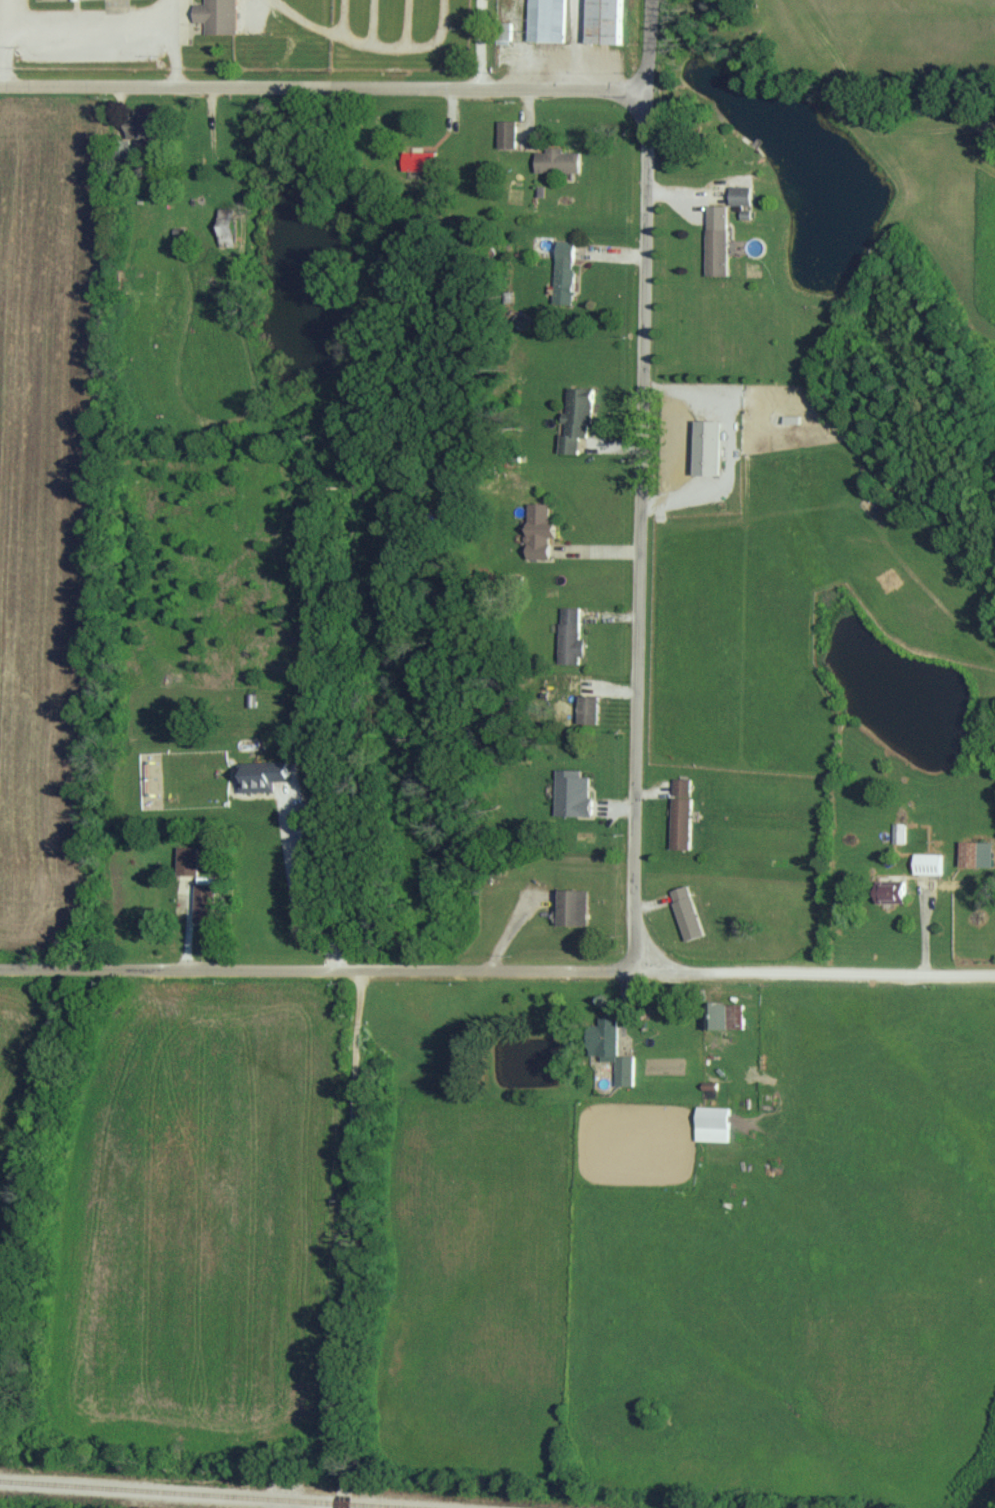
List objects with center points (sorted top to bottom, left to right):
building: (218, 15)
building: (548, 20)
building: (607, 22)
parking lot: (379, 26)
road: (87, 32)
parking lot: (83, 35)
road: (5, 41)
road: (174, 42)
road: (481, 43)
road: (319, 84)
building: (144, 129)
building: (509, 133)
building: (421, 160)
building: (559, 160)
building: (742, 194)
building: (229, 226)
building: (719, 239)
building: (565, 272)
building: (579, 418)
building: (712, 446)
road: (640, 484)
building: (541, 530)
building: (572, 635)
building: (590, 708)
building: (265, 775)
building: (574, 793)
building: (683, 813)
building: (900, 832)
building: (979, 853)
building: (190, 860)
building: (930, 863)
road: (295, 889)
building: (893, 891)
building: (207, 903)
building: (575, 906)
building: (689, 912)
road: (314, 967)
road: (812, 972)
building: (613, 1049)
building: (715, 1123)
railway: (200, 1494)

